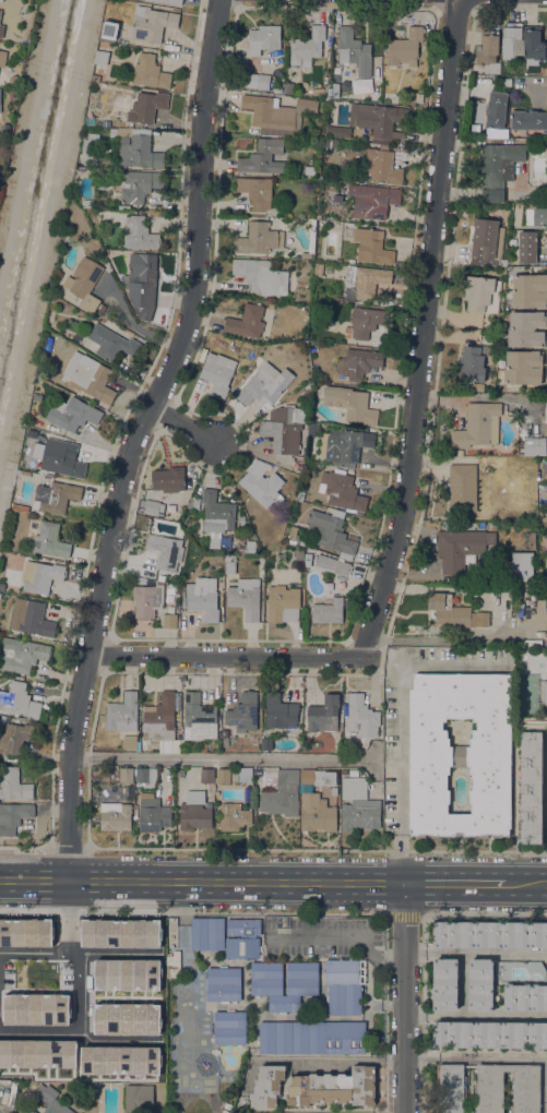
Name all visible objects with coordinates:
building: (1, 0)
building: (108, 1)
building: (170, 1)
building: (0, 12)
building: (26, 19)
building: (151, 23)
building: (110, 29)
building: (1, 31)
building: (263, 38)
building: (512, 40)
building: (534, 43)
building: (307, 47)
building: (405, 47)
building: (354, 51)
building: (488, 51)
building: (100, 57)
building: (2, 58)
building: (543, 71)
building: (150, 72)
building: (96, 77)
building: (335, 77)
building: (255, 80)
road: (532, 83)
building: (360, 85)
building: (288, 87)
building: (276, 89)
building: (335, 91)
building: (0, 96)
building: (146, 107)
building: (496, 109)
building: (276, 113)
building: (379, 119)
building: (528, 119)
building: (337, 131)
building: (331, 143)
building: (136, 147)
building: (90, 148)
building: (262, 157)
building: (382, 165)
building: (497, 167)
building: (139, 187)
building: (255, 191)
building: (337, 198)
building: (372, 200)
building: (86, 203)
building: (536, 216)
building: (139, 234)
building: (258, 238)
building: (487, 239)
building: (371, 247)
building: (527, 247)
building: (306, 255)
building: (318, 270)
building: (261, 276)
building: (364, 282)
building: (84, 283)
building: (141, 283)
building: (528, 290)
building: (481, 294)
building: (338, 300)
building: (102, 308)
building: (246, 321)
building: (366, 321)
building: (526, 328)
road: (421, 330)
building: (111, 343)
building: (202, 355)
building: (357, 364)
building: (471, 364)
building: (523, 368)
building: (217, 373)
building: (88, 376)
building: (264, 386)
building: (461, 387)
building: (354, 405)
building: (545, 409)
building: (73, 415)
road: (183, 424)
building: (478, 426)
building: (282, 430)
building: (311, 432)
road: (136, 435)
building: (347, 446)
building: (534, 446)
building: (460, 452)
building: (59, 457)
building: (31, 465)
building: (544, 471)
building: (23, 472)
building: (168, 479)
building: (262, 488)
building: (462, 488)
building: (341, 490)
building: (300, 493)
building: (55, 496)
building: (194, 503)
building: (20, 507)
building: (153, 507)
building: (216, 516)
building: (241, 520)
building: (331, 531)
building: (292, 534)
building: (50, 540)
building: (528, 540)
building: (250, 546)
building: (546, 547)
building: (461, 548)
building: (165, 551)
building: (307, 554)
building: (261, 561)
building: (229, 564)
building: (331, 564)
building: (522, 566)
building: (40, 576)
building: (142, 581)
building: (2, 586)
building: (245, 597)
building: (203, 598)
building: (146, 600)
building: (281, 601)
building: (329, 611)
building: (448, 611)
building: (31, 618)
building: (481, 619)
building: (169, 621)
road: (457, 639)
building: (22, 655)
road: (227, 655)
building: (544, 692)
building: (19, 701)
building: (177, 706)
building: (280, 711)
building: (242, 713)
building: (122, 714)
building: (323, 715)
building: (198, 718)
building: (361, 718)
building: (3, 719)
road: (400, 722)
building: (160, 723)
building: (15, 738)
building: (130, 742)
building: (265, 744)
building: (203, 747)
building: (305, 749)
building: (460, 754)
road: (219, 759)
building: (344, 771)
building: (126, 775)
building: (145, 775)
building: (245, 775)
building: (206, 776)
building: (223, 776)
building: (318, 777)
building: (13, 785)
building: (210, 788)
building: (348, 788)
building: (531, 788)
building: (333, 791)
building: (282, 794)
building: (194, 797)
building: (152, 813)
building: (317, 813)
building: (360, 814)
building: (13, 816)
building: (115, 816)
building: (194, 816)
building: (233, 817)
road: (36, 879)
road: (309, 882)
building: (25, 932)
building: (120, 933)
building: (170, 933)
building: (207, 933)
building: (490, 934)
building: (242, 937)
parking lot: (321, 937)
road: (368, 943)
road: (76, 953)
road: (475, 953)
road: (73, 956)
road: (385, 958)
building: (174, 966)
building: (521, 971)
building: (127, 974)
building: (266, 979)
building: (223, 984)
building: (443, 984)
building: (481, 984)
building: (344, 985)
road: (404, 997)
building: (525, 997)
building: (35, 1008)
road: (475, 1016)
building: (126, 1018)
road: (385, 1020)
building: (229, 1028)
road: (40, 1032)
building: (489, 1034)
building: (311, 1037)
building: (37, 1053)
road: (420, 1056)
road: (518, 1057)
building: (120, 1060)
road: (344, 1063)
building: (525, 1085)
building: (267, 1086)
building: (333, 1088)
building: (451, 1088)
building: (12, 1093)
building: (139, 1098)
building: (44, 1102)
building: (224, 1111)

